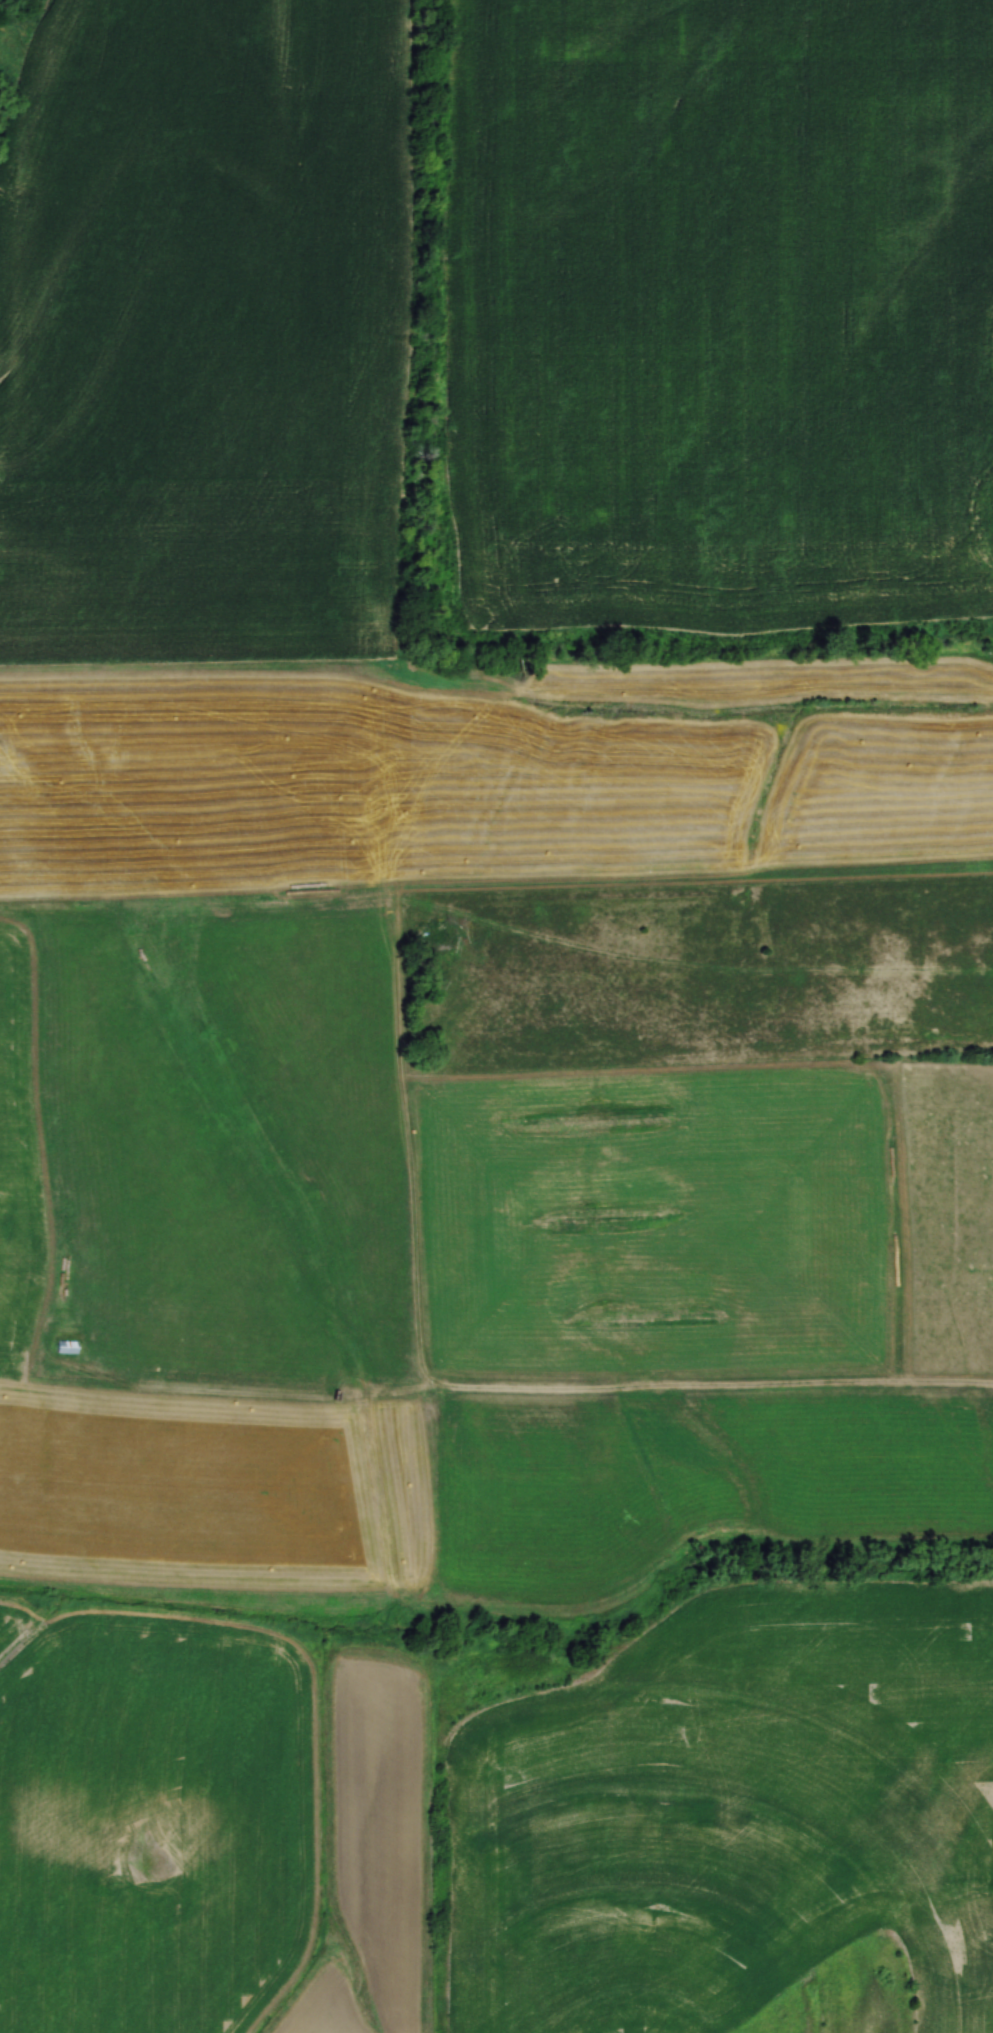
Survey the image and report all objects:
building: (65, 1344)

